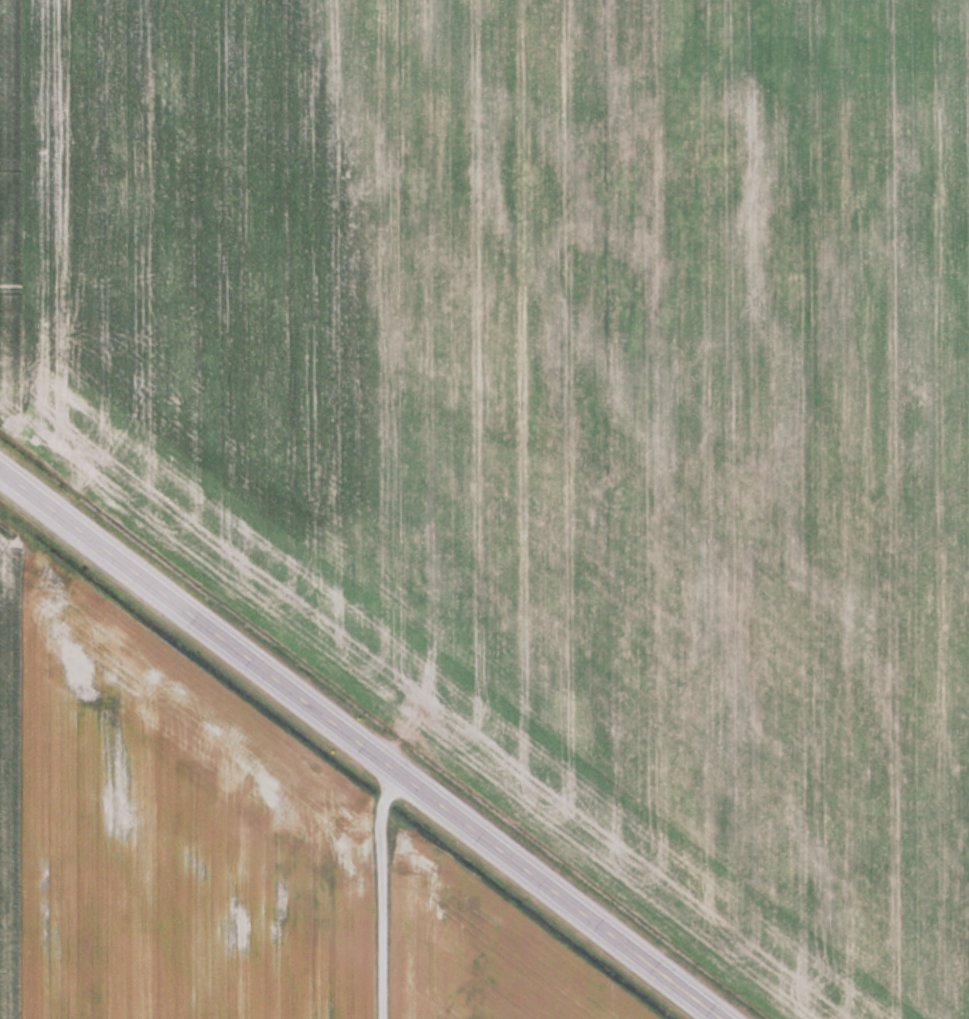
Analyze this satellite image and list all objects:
road: (361, 744)
road: (380, 893)

